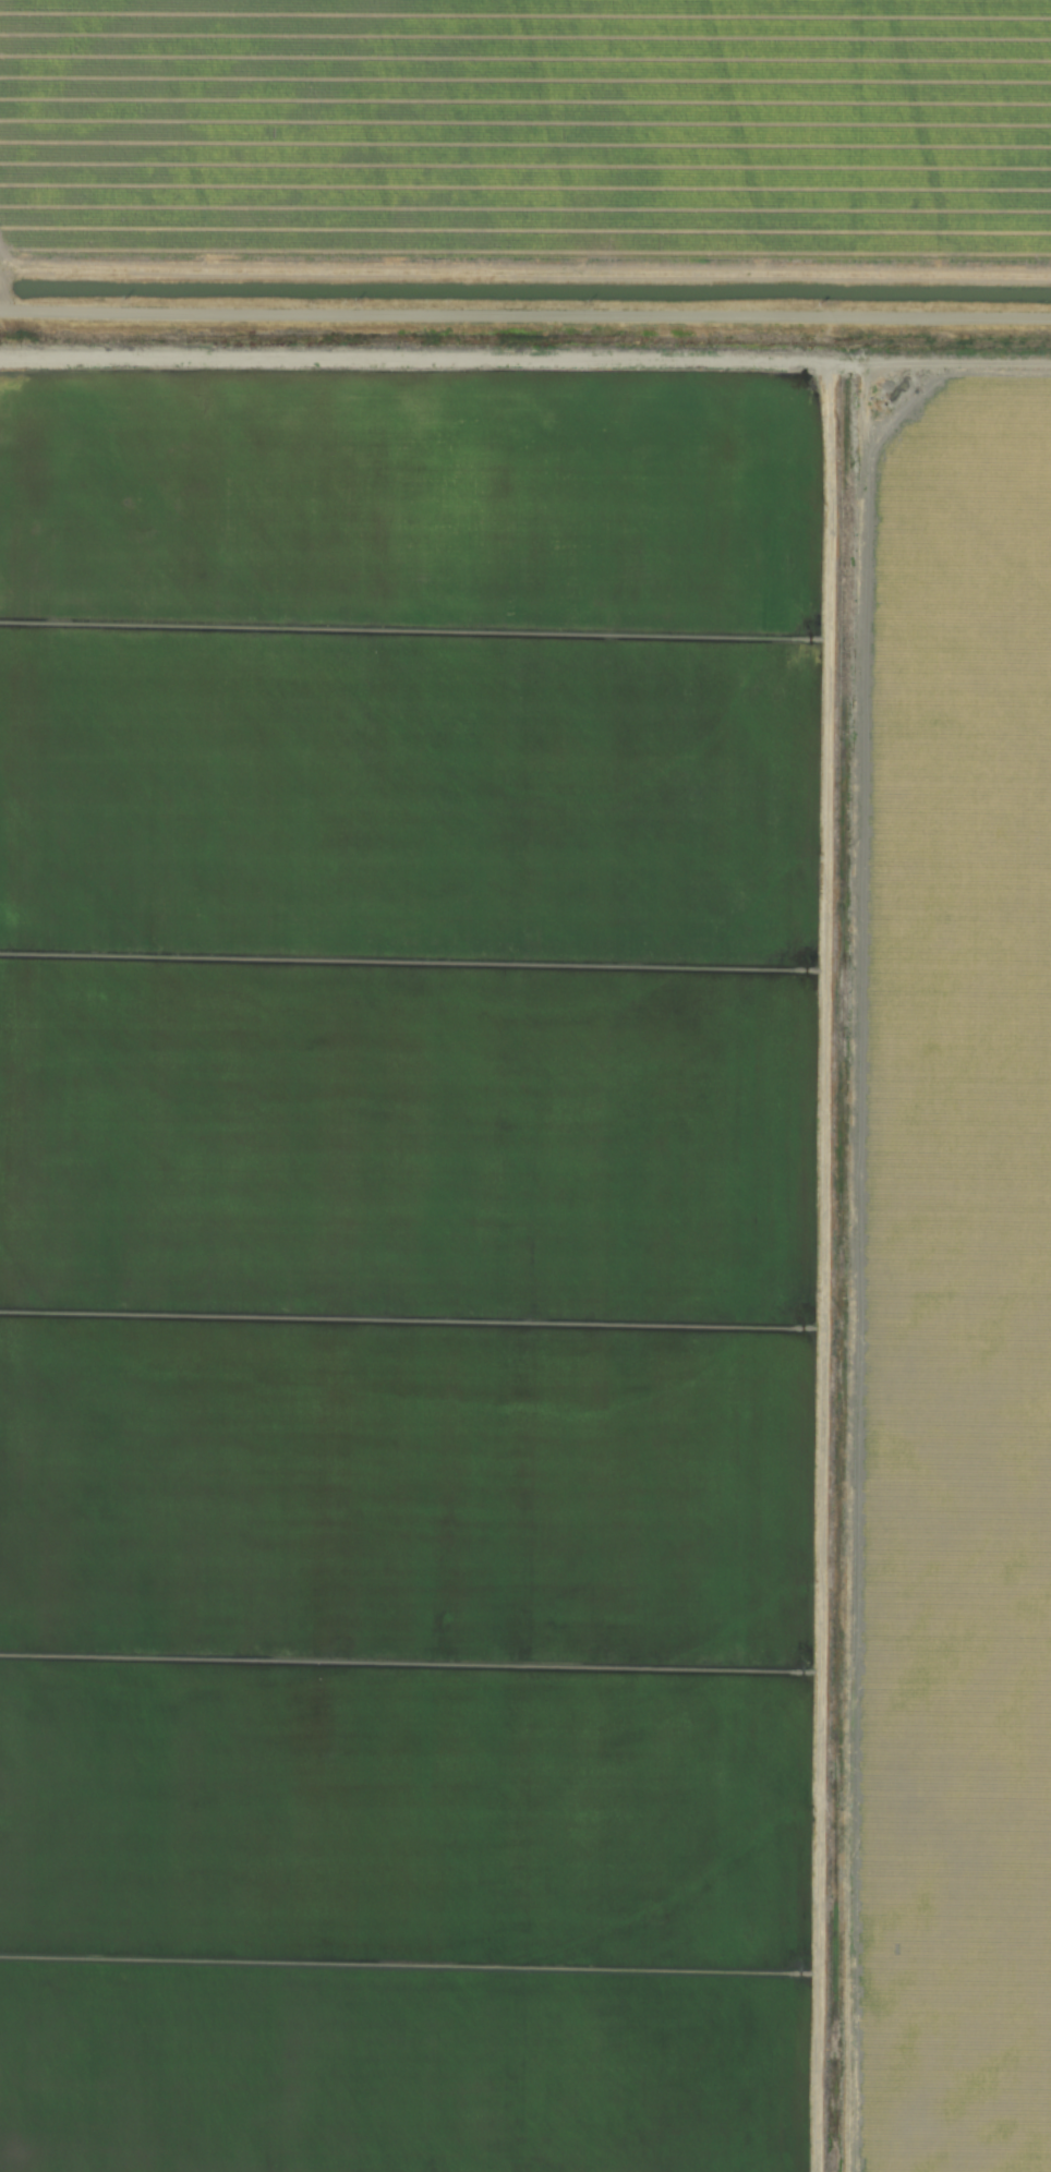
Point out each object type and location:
road: (525, 351)

